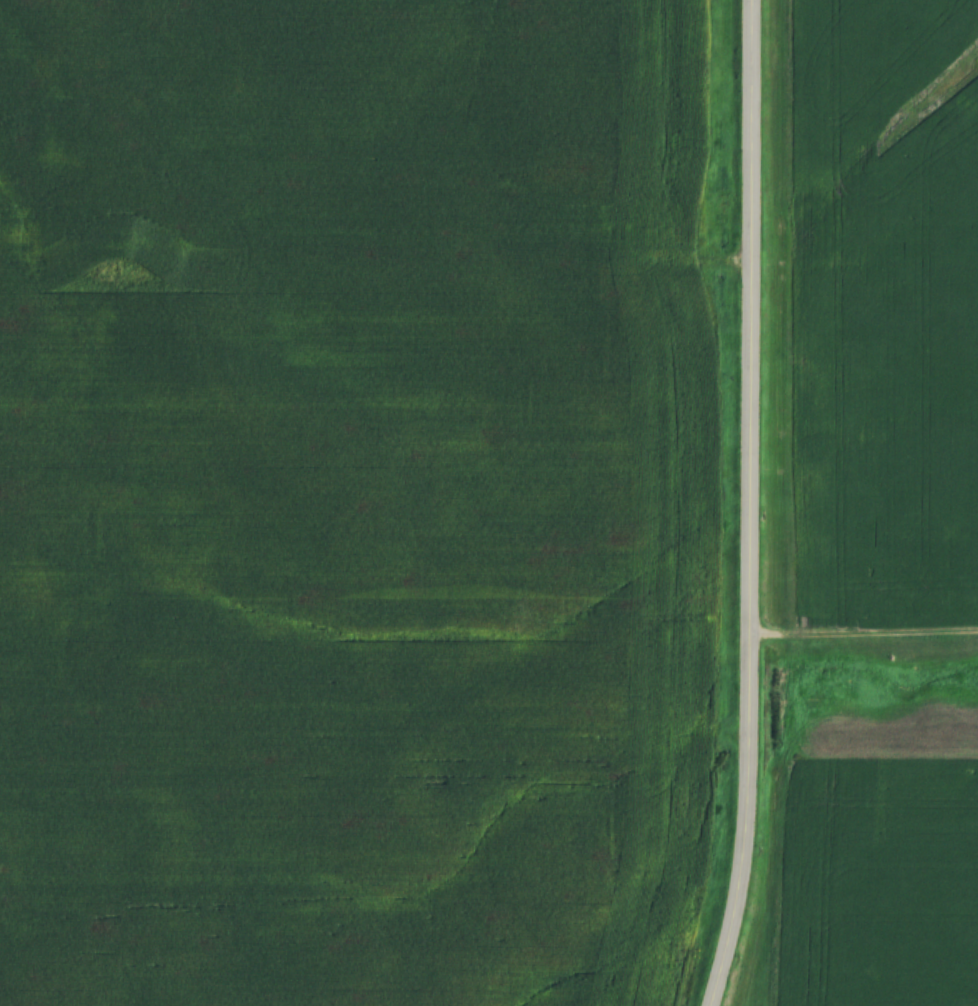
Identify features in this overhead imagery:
road: (754, 504)

